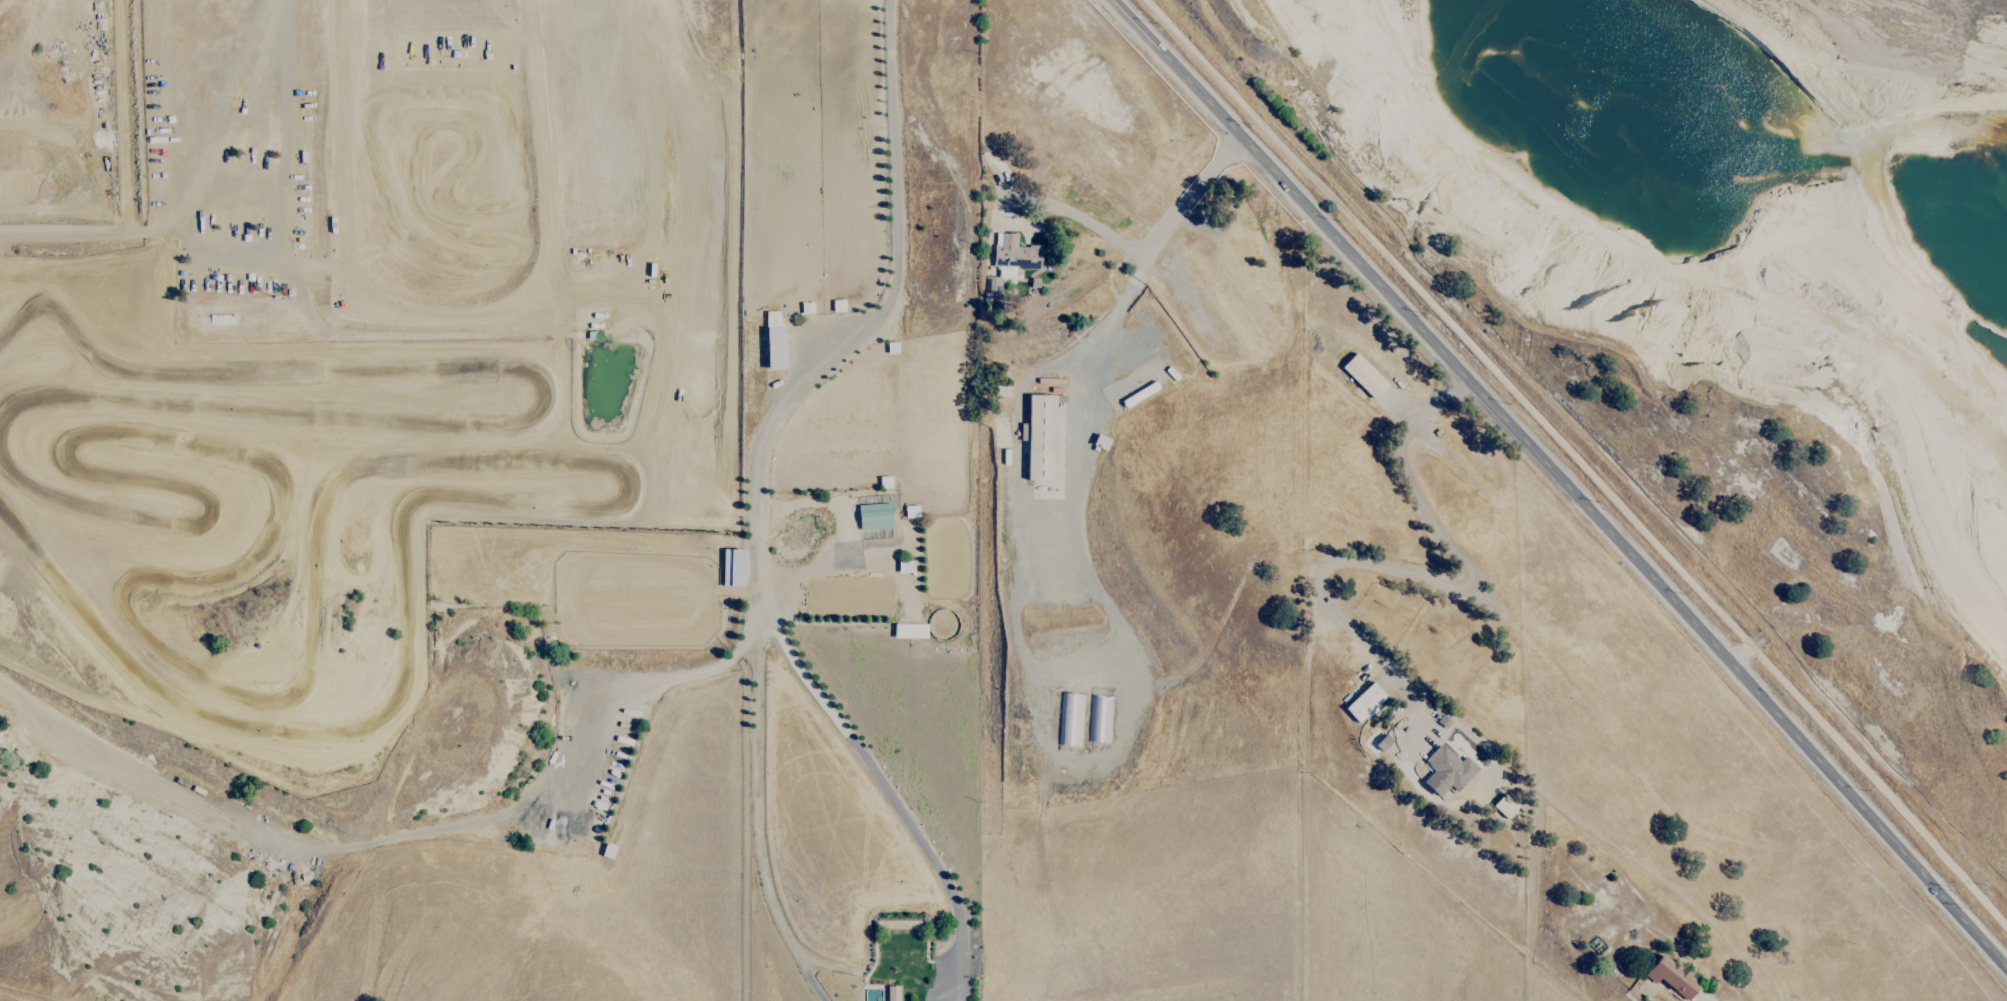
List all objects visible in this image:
road: (1180, 207)
quarry: (1721, 211)
road: (1081, 219)
building: (1008, 263)
building: (837, 306)
road: (868, 320)
building: (773, 341)
quarry: (356, 363)
building: (1363, 376)
building: (1038, 438)
road: (1559, 486)
building: (873, 516)
road: (848, 565)
building: (732, 568)
road: (1047, 569)
road: (1419, 576)
building: (909, 631)
road: (639, 690)
building: (1364, 703)
building: (1099, 719)
building: (1070, 721)
building: (1382, 743)
road: (1100, 762)
building: (1446, 771)
building: (1503, 807)
road: (957, 969)
road: (902, 974)
building: (1670, 977)
road: (811, 983)
building: (891, 993)

